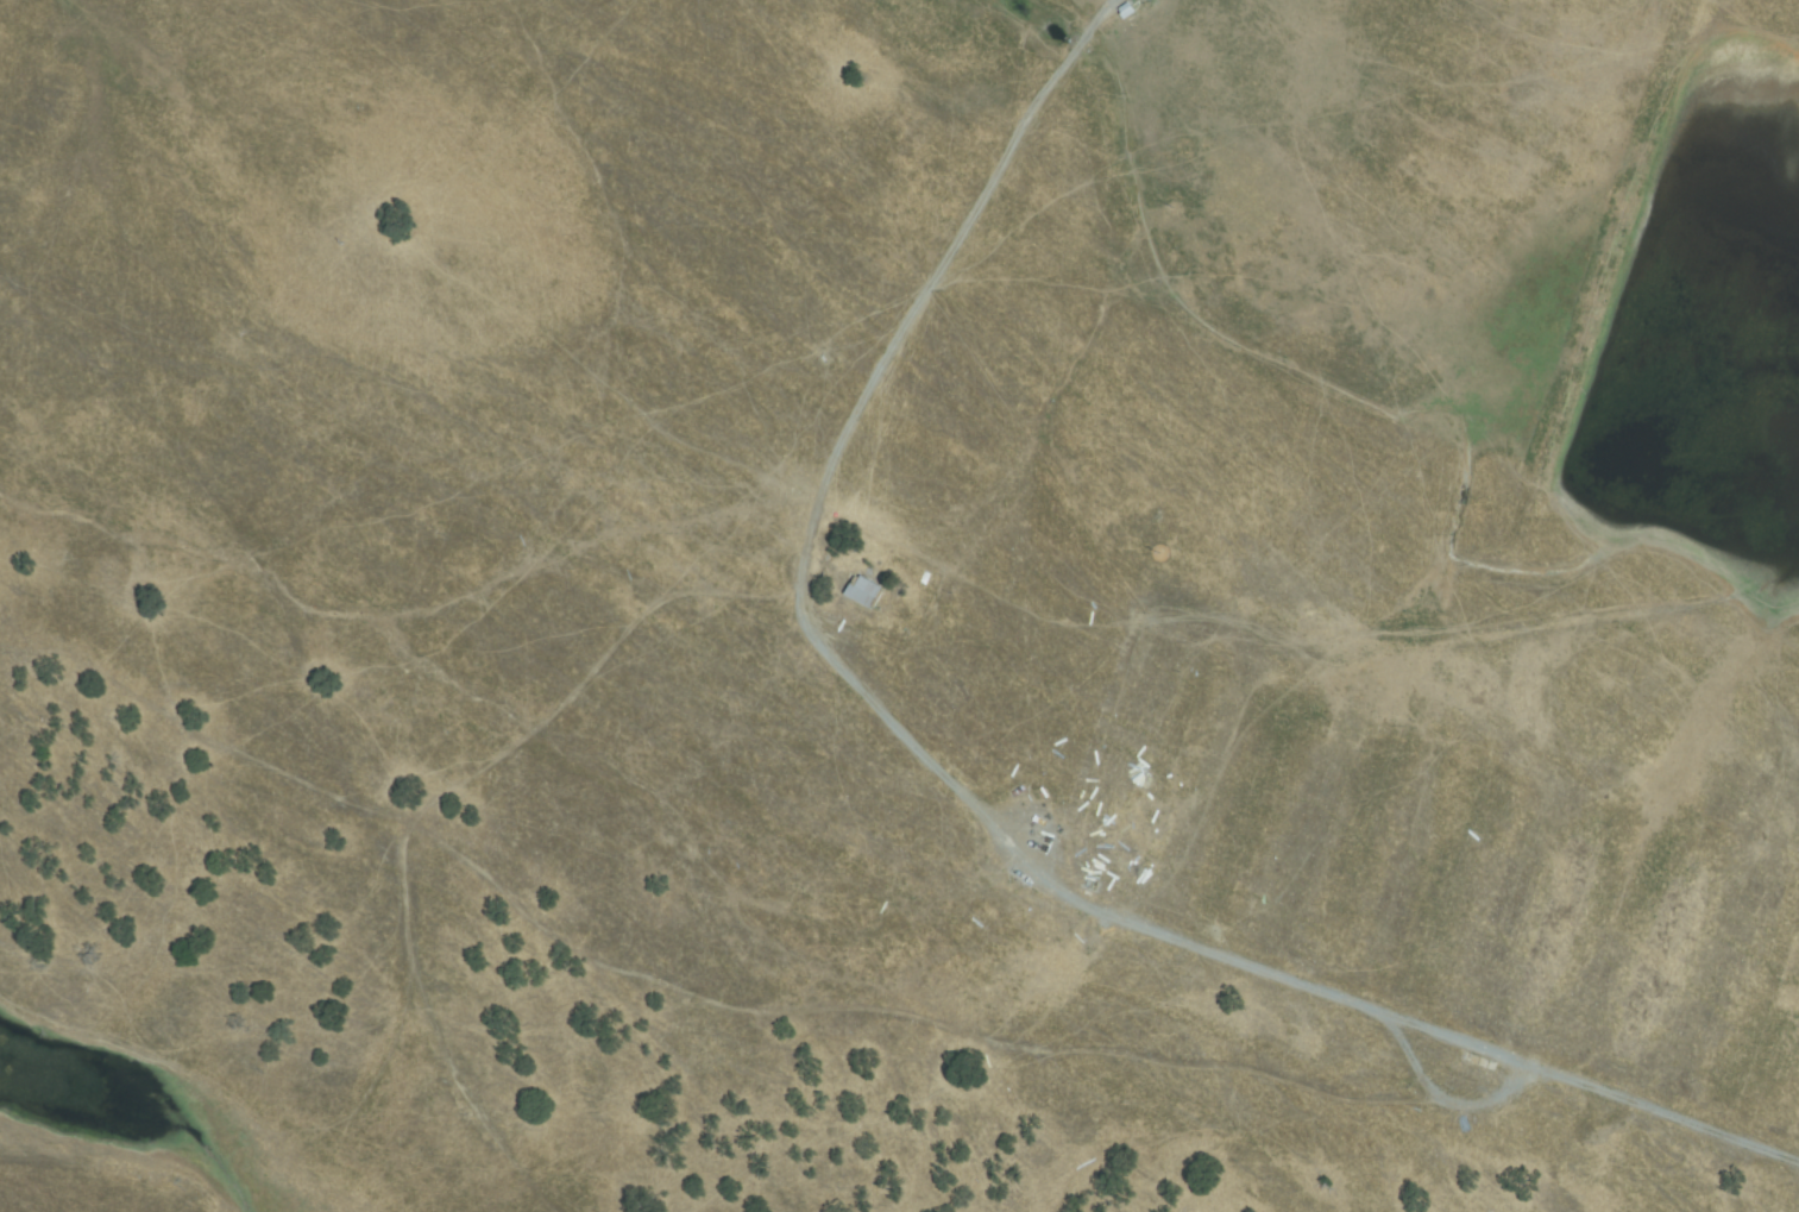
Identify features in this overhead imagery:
building: (1126, 11)
building: (864, 592)
road: (954, 790)
building: (1134, 847)
building: (1092, 959)
road: (721, 1004)
road: (447, 1032)

